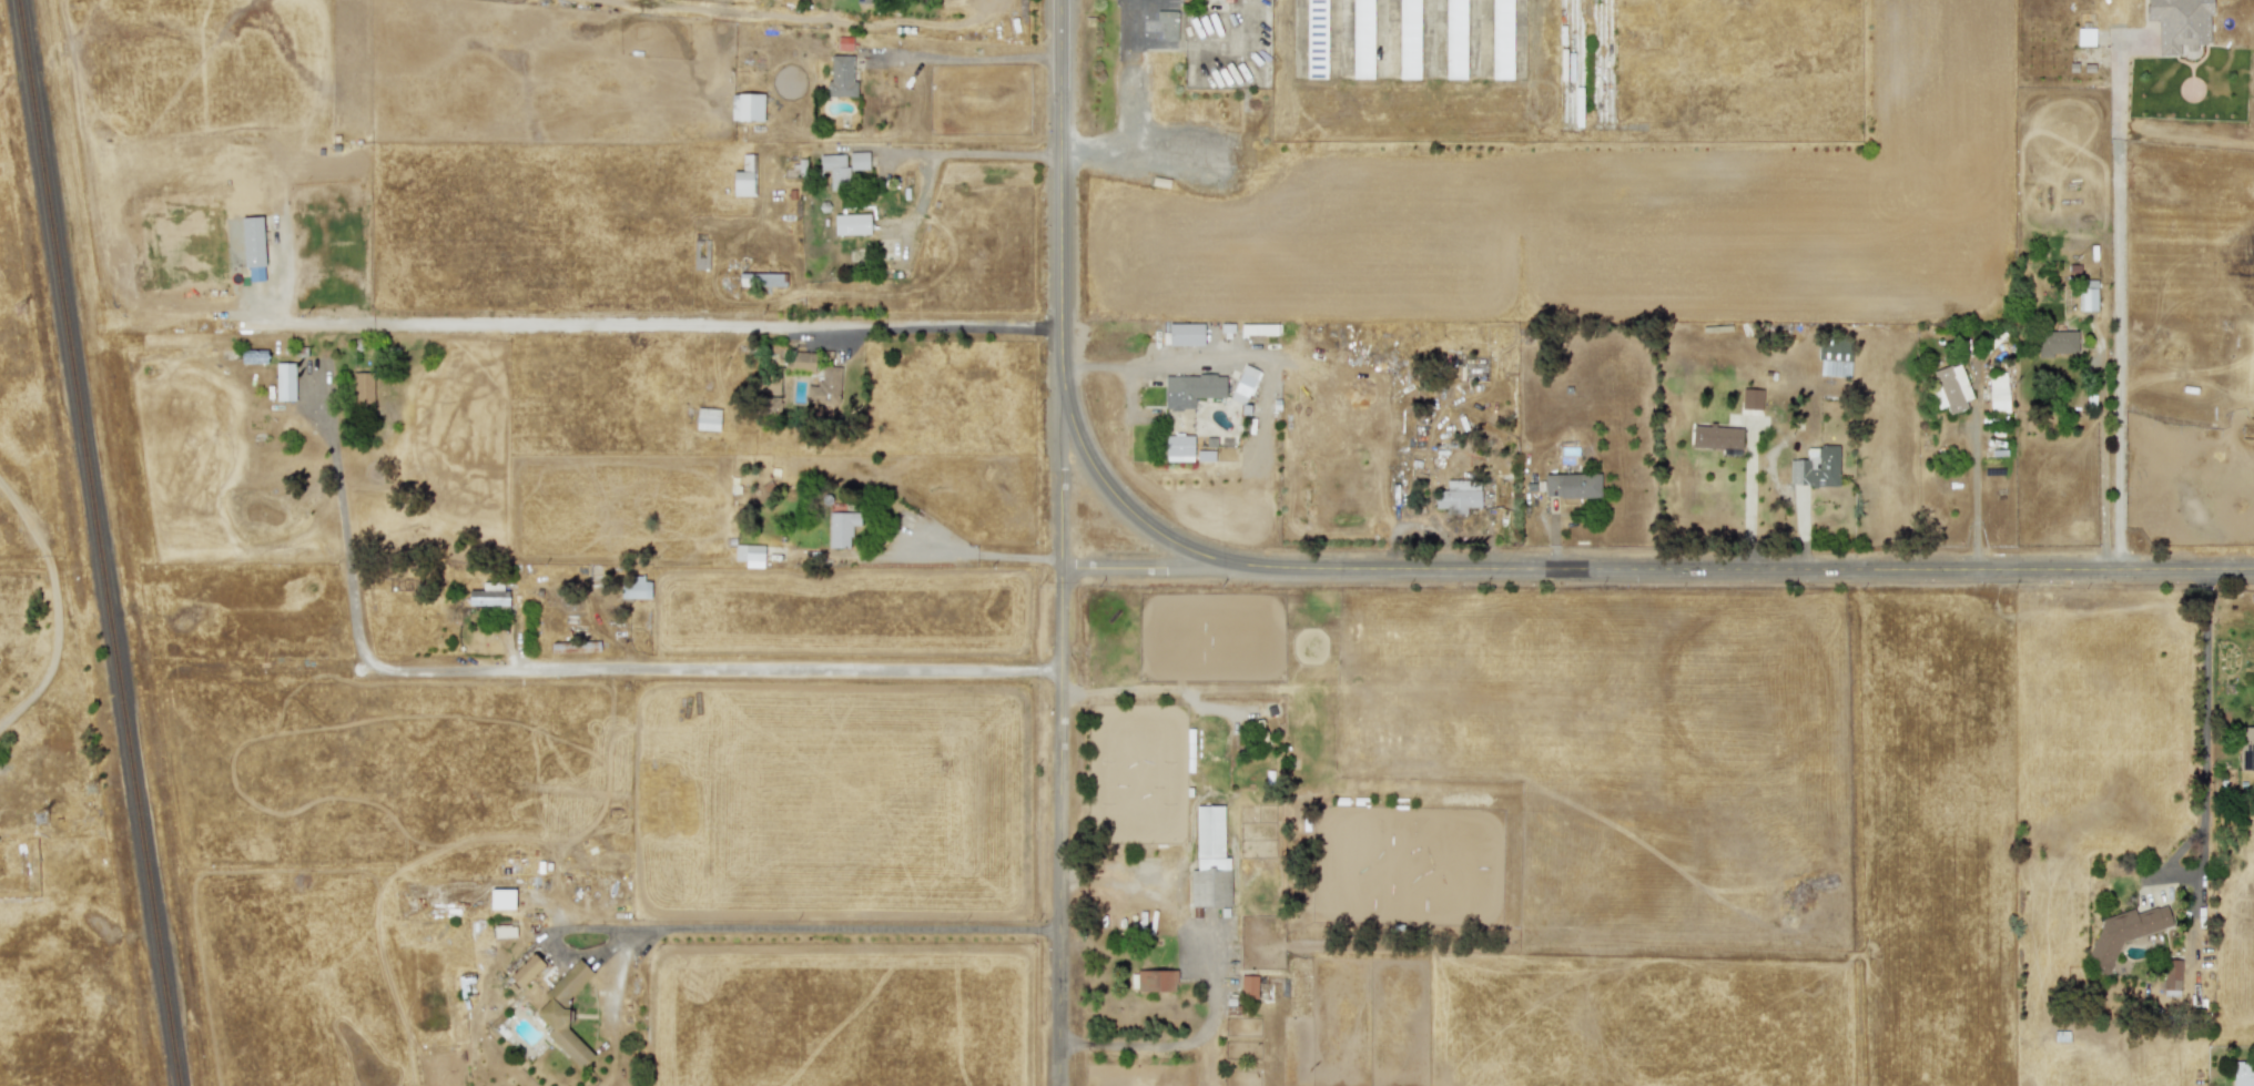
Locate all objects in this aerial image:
building: (863, 1)
building: (1167, 23)
building: (2180, 23)
road: (1060, 24)
building: (2085, 37)
building: (1316, 38)
building: (1361, 39)
building: (1408, 39)
building: (1454, 39)
building: (1501, 39)
building: (843, 43)
road: (963, 59)
building: (840, 77)
building: (747, 108)
road: (1125, 111)
road: (979, 158)
building: (857, 161)
building: (835, 170)
building: (743, 177)
building: (851, 224)
building: (761, 280)
building: (2088, 295)
road: (2119, 304)
road: (1060, 309)
power tower: (26, 311)
road: (659, 326)
building: (1186, 334)
building: (2057, 343)
building: (799, 361)
building: (1832, 362)
road: (1147, 366)
building: (285, 382)
building: (1243, 384)
building: (824, 387)
building: (1950, 387)
building: (362, 388)
building: (1190, 389)
building: (1997, 393)
building: (1753, 398)
building: (707, 419)
building: (2247, 433)
building: (1716, 438)
building: (1178, 448)
road: (2102, 461)
building: (1815, 467)
building: (1571, 485)
road: (1109, 489)
road: (1980, 494)
building: (1458, 496)
road: (1748, 504)
road: (345, 525)
building: (841, 528)
railway: (101, 542)
building: (749, 555)
road: (974, 559)
road: (1145, 570)
road: (1740, 570)
building: (634, 588)
building: (488, 595)
road: (54, 606)
road: (713, 673)
road: (2205, 713)
building: (2245, 749)
power tower: (90, 792)
power tower: (43, 799)
road: (1060, 828)
building: (1209, 860)
building: (501, 900)
building: (504, 931)
road: (829, 932)
building: (2123, 933)
building: (527, 972)
road: (1211, 976)
building: (2171, 977)
building: (1153, 981)
building: (1248, 986)
building: (563, 995)
building: (2243, 1075)

